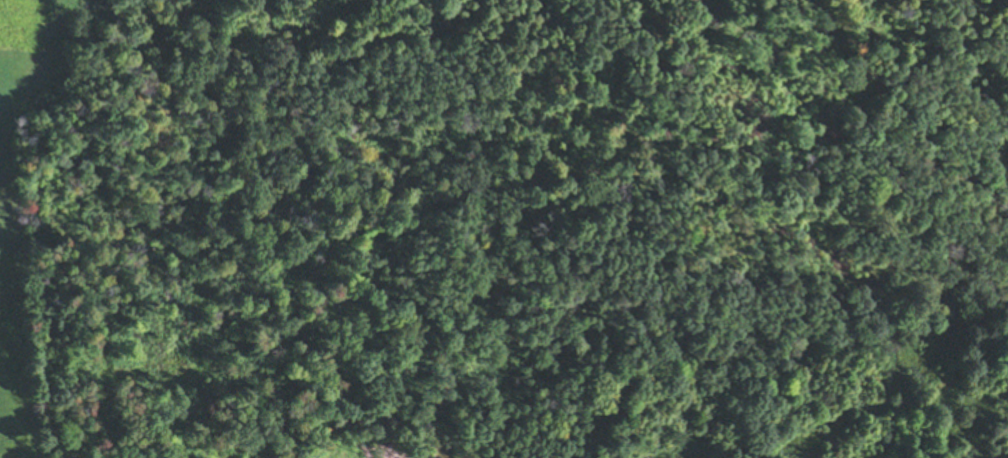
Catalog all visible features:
crop: (25, 49)
crop: (13, 327)

